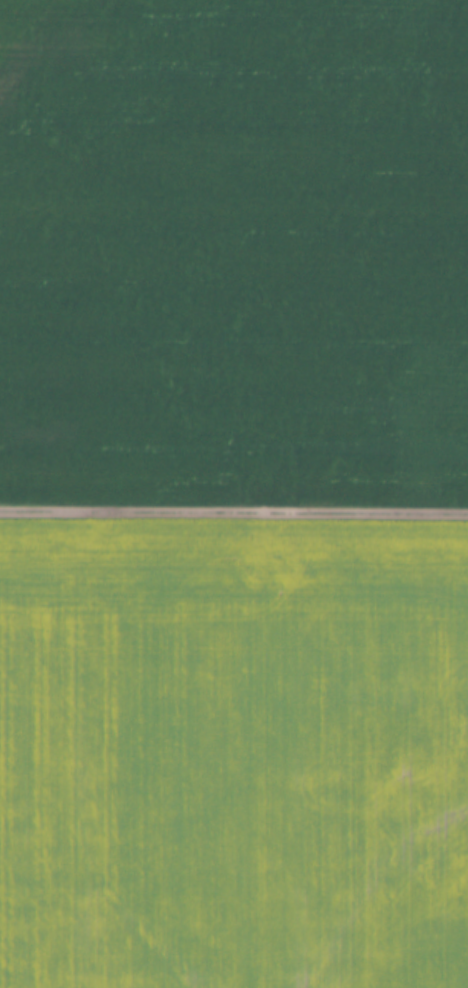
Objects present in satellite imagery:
road: (234, 507)

